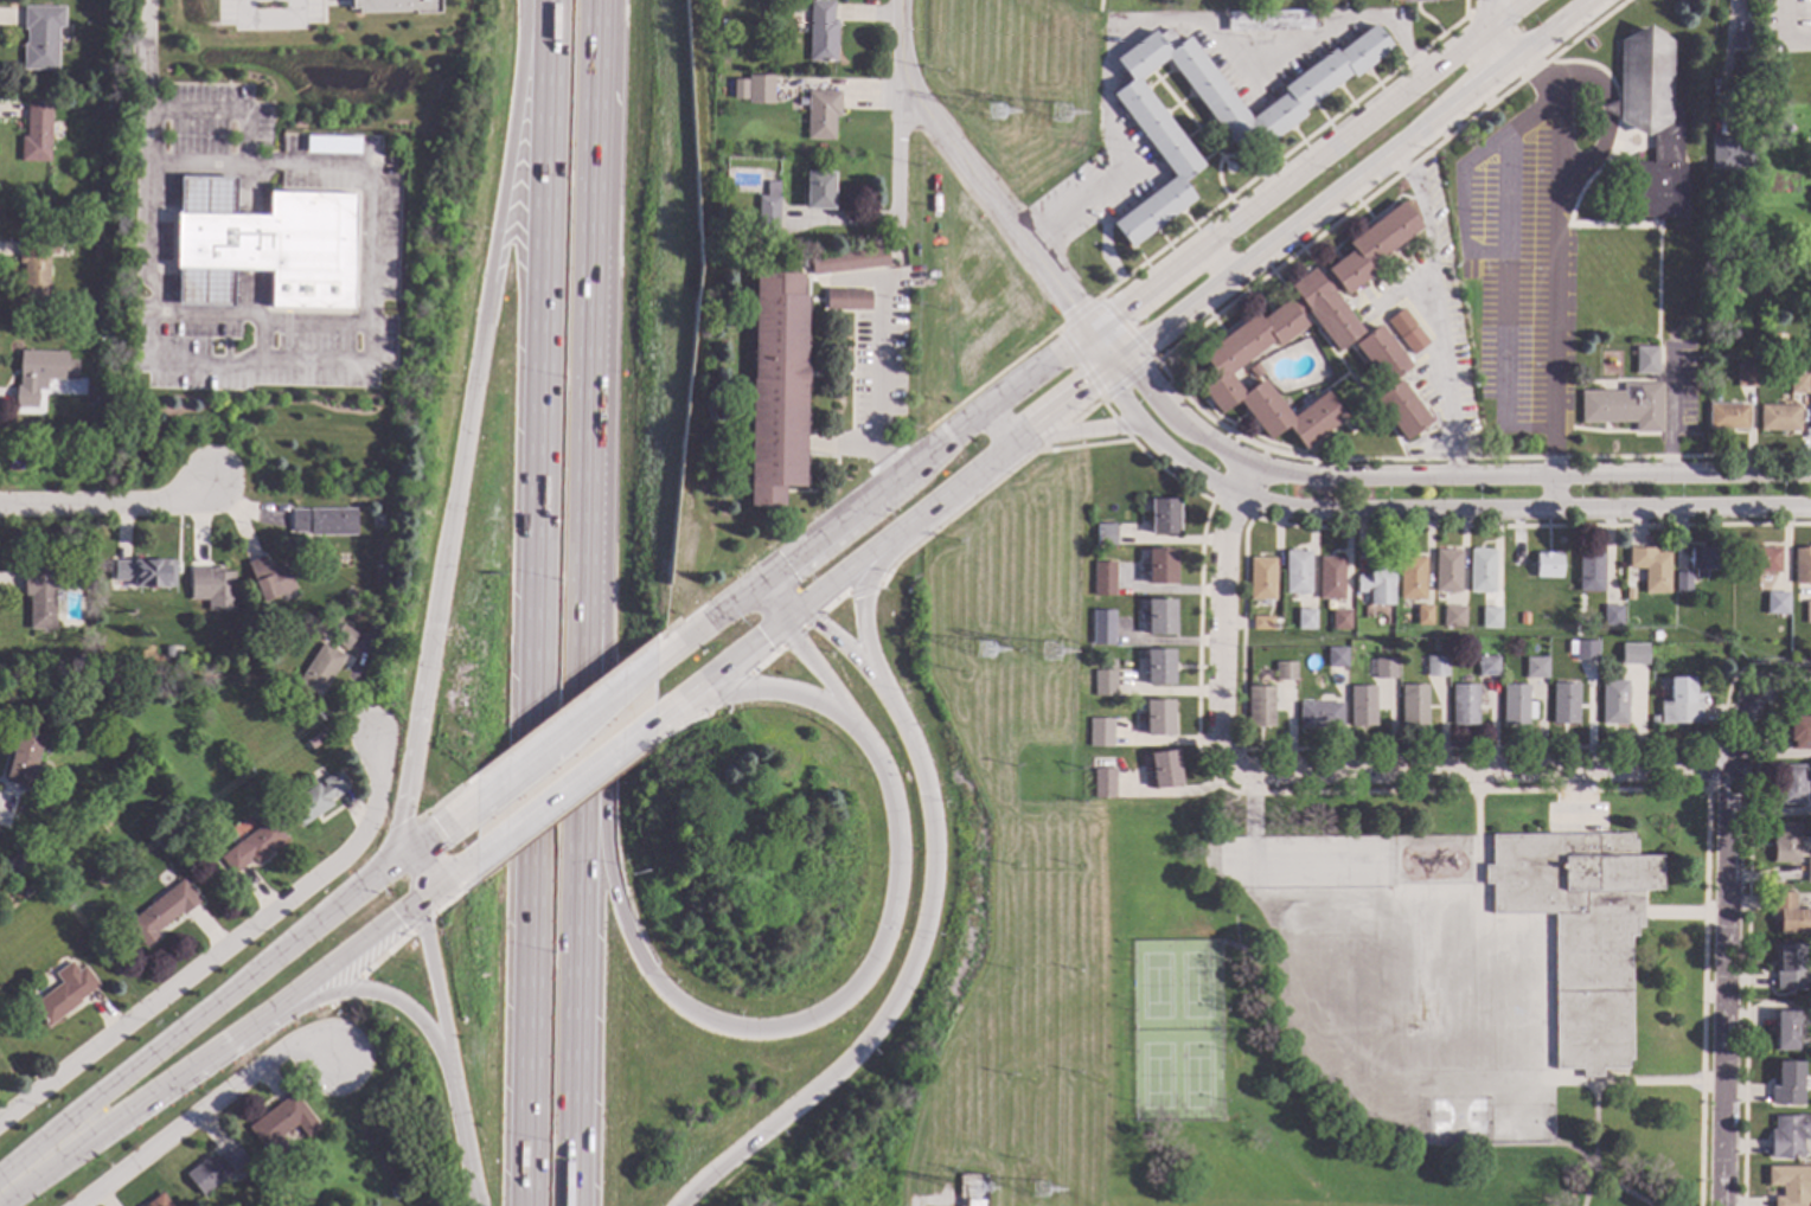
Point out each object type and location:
building: (1390, 0)
building: (1416, 1)
building: (395, 6)
road: (1504, 14)
building: (1268, 21)
road: (1180, 25)
road: (268, 26)
building: (821, 32)
road: (1487, 33)
road: (1785, 33)
building: (41, 37)
building: (1741, 43)
road: (901, 45)
road: (146, 79)
building: (757, 90)
building: (737, 91)
power tower: (994, 110)
power tower: (1063, 110)
building: (1215, 111)
building: (821, 115)
building: (1651, 126)
building: (37, 133)
building: (331, 145)
building: (1732, 155)
road: (901, 161)
road: (1359, 181)
building: (818, 191)
road: (997, 210)
building: (769, 213)
building: (263, 233)
building: (1371, 248)
building: (96, 252)
building: (849, 261)
building: (34, 265)
road: (1216, 265)
road: (593, 275)
road: (1551, 276)
road: (1503, 277)
building: (205, 290)
building: (847, 300)
traffic signals: (1070, 306)
building: (1324, 310)
road: (1438, 310)
traffic signals: (1118, 312)
building: (1400, 323)
building: (1413, 341)
road: (1069, 346)
road: (1111, 348)
road: (366, 355)
building: (1380, 355)
building: (1646, 361)
building: (1253, 372)
building: (37, 374)
road: (1135, 374)
road: (1118, 376)
building: (1222, 376)
building: (1746, 377)
traffic signals: (1140, 380)
road: (1105, 383)
building: (1797, 384)
road: (878, 387)
building: (776, 389)
building: (89, 392)
traffic signals: (1093, 397)
building: (1624, 406)
building: (1401, 411)
road: (1665, 412)
road: (1062, 417)
building: (1727, 417)
building: (1810, 417)
building: (1779, 418)
road: (472, 428)
road: (1004, 429)
road: (1076, 430)
road: (839, 444)
road: (1460, 475)
road: (961, 493)
road: (102, 502)
road: (1461, 509)
building: (1164, 518)
building: (324, 522)
building: (1105, 535)
building: (1761, 560)
building: (1703, 562)
building: (1548, 565)
building: (1160, 567)
building: (1802, 567)
building: (383, 569)
building: (1650, 569)
building: (1480, 571)
building: (1297, 572)
building: (1447, 572)
building: (1591, 572)
building: (145, 575)
road: (855, 575)
building: (1103, 578)
building: (1330, 578)
building: (269, 579)
building: (1261, 579)
building: (1412, 579)
building: (1682, 583)
traffic signals: (762, 586)
building: (1376, 586)
building: (212, 588)
road: (863, 588)
building: (1628, 594)
building: (39, 598)
road: (832, 601)
road: (864, 601)
road: (537, 603)
building: (1777, 604)
road: (775, 605)
building: (1806, 611)
traffic signals: (806, 612)
building: (1423, 615)
road: (1226, 616)
building: (1453, 616)
building: (1612, 616)
building: (1523, 617)
road: (798, 618)
building: (1160, 618)
building: (1490, 618)
building: (377, 620)
building: (1305, 620)
building: (1340, 620)
building: (1261, 623)
traffic signals: (789, 626)
road: (823, 626)
building: (1101, 627)
road: (800, 629)
building: (344, 637)
building: (1074, 641)
building: (1634, 647)
power tower: (1056, 648)
power tower: (983, 650)
building: (1583, 650)
building: (168, 652)
building: (1336, 657)
building: (79, 659)
road: (764, 660)
building: (1435, 667)
building: (1487, 667)
building: (1159, 668)
building: (1535, 668)
building: (321, 669)
building: (1384, 669)
building: (1285, 672)
road: (823, 673)
road: (722, 675)
building: (1103, 684)
road: (1785, 685)
road: (777, 691)
road: (728, 693)
building: (1679, 703)
building: (1563, 704)
building: (1613, 704)
building: (1413, 705)
building: (1464, 706)
building: (1516, 706)
building: (1260, 707)
building: (1362, 707)
building: (1319, 716)
building: (1157, 718)
building: (1652, 720)
road: (685, 721)
building: (1799, 729)
road: (563, 731)
building: (1100, 733)
building: (315, 739)
building: (23, 758)
road: (1710, 769)
building: (1164, 770)
road: (1482, 774)
building: (1103, 783)
building: (1792, 785)
road: (563, 794)
building: (318, 798)
road: (572, 804)
building: (257, 814)
road: (897, 820)
building: (187, 842)
building: (1785, 842)
building: (252, 847)
traffic signals: (408, 854)
building: (14, 859)
parking lot: (1304, 861)
building: (1809, 871)
road: (582, 878)
road: (412, 880)
road: (444, 885)
road: (456, 894)
traffic signals: (417, 906)
building: (161, 912)
building: (1790, 916)
road: (622, 918)
road: (422, 922)
traffic signals: (891, 928)
building: (1580, 930)
road: (1746, 934)
road: (1728, 943)
road: (228, 944)
road: (385, 954)
road: (338, 962)
park: (1340, 963)
building: (1791, 968)
road: (913, 982)
park: (1195, 984)
park: (1156, 986)
road: (365, 989)
road: (232, 990)
road: (343, 993)
building: (64, 994)
road: (1702, 999)
road: (318, 1028)
building: (1785, 1031)
road: (447, 1056)
park: (1156, 1075)
park: (1196, 1075)
building: (1787, 1084)
road: (130, 1108)
road: (201, 1111)
park: (1457, 1118)
park: (1519, 1123)
building: (281, 1125)
building: (1788, 1137)
road: (1594, 1148)
building: (215, 1170)
road: (1604, 1175)
building: (1791, 1185)
power tower: (1044, 1193)
power tower: (980, 1198)
building: (158, 1201)
road: (929, 1201)

